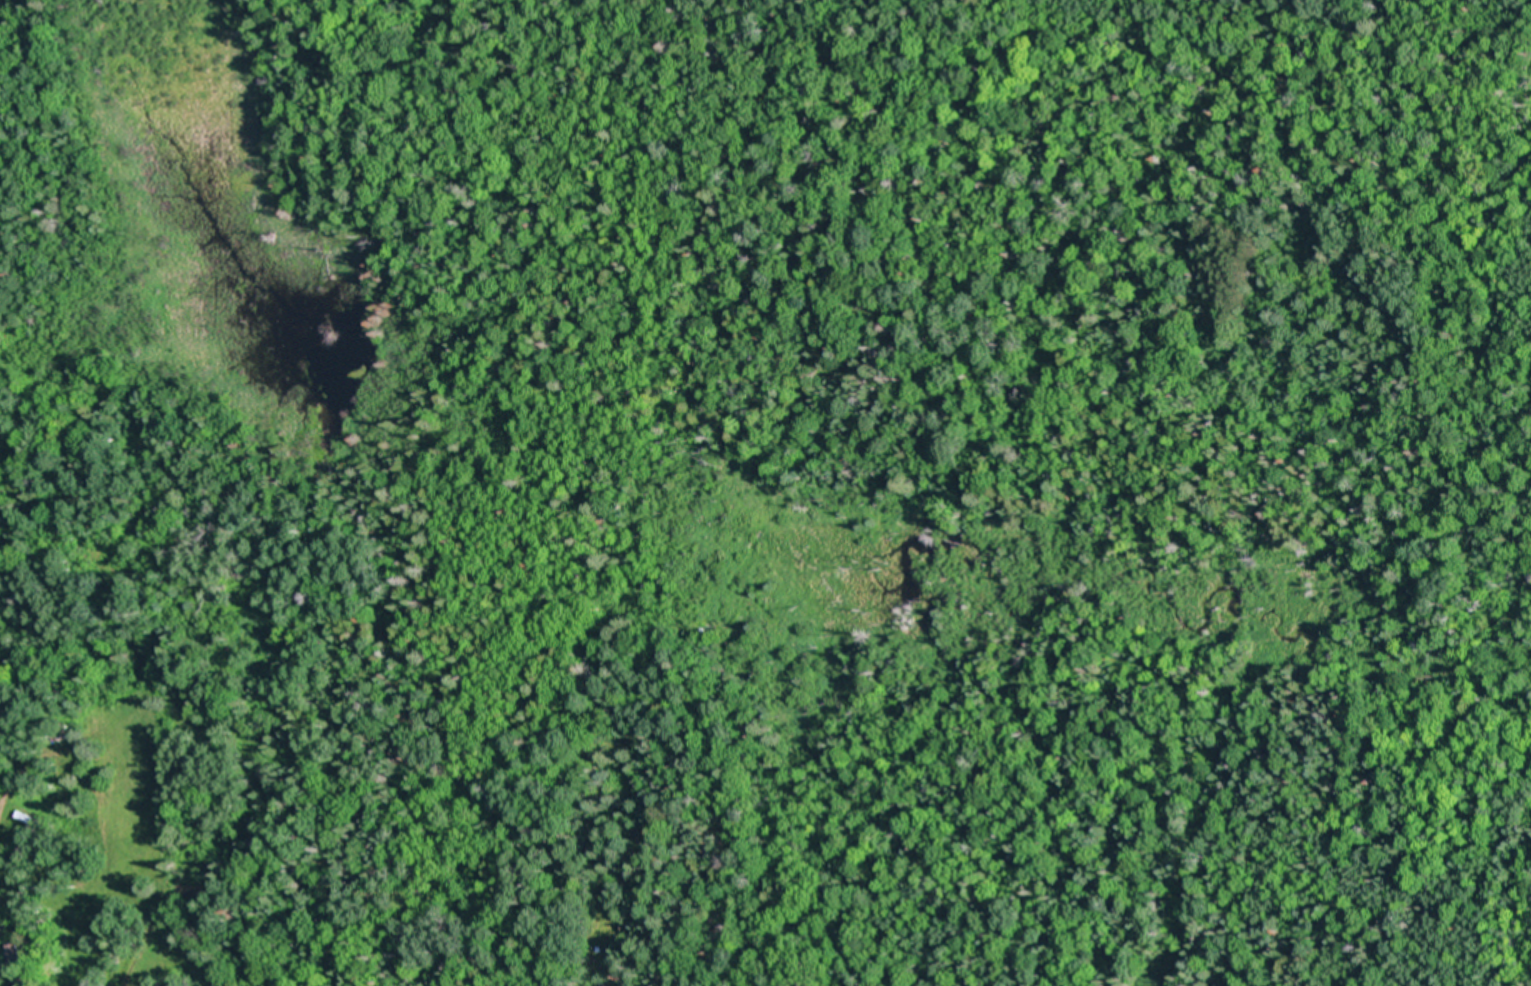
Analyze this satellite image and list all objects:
building: (17, 963)

